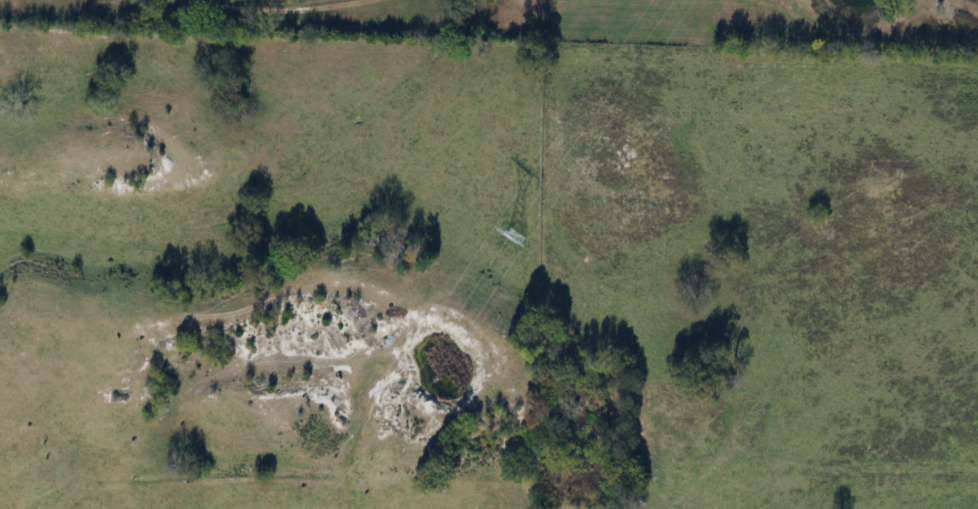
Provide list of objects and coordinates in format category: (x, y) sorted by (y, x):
road: (287, 7)
power tower: (518, 235)

